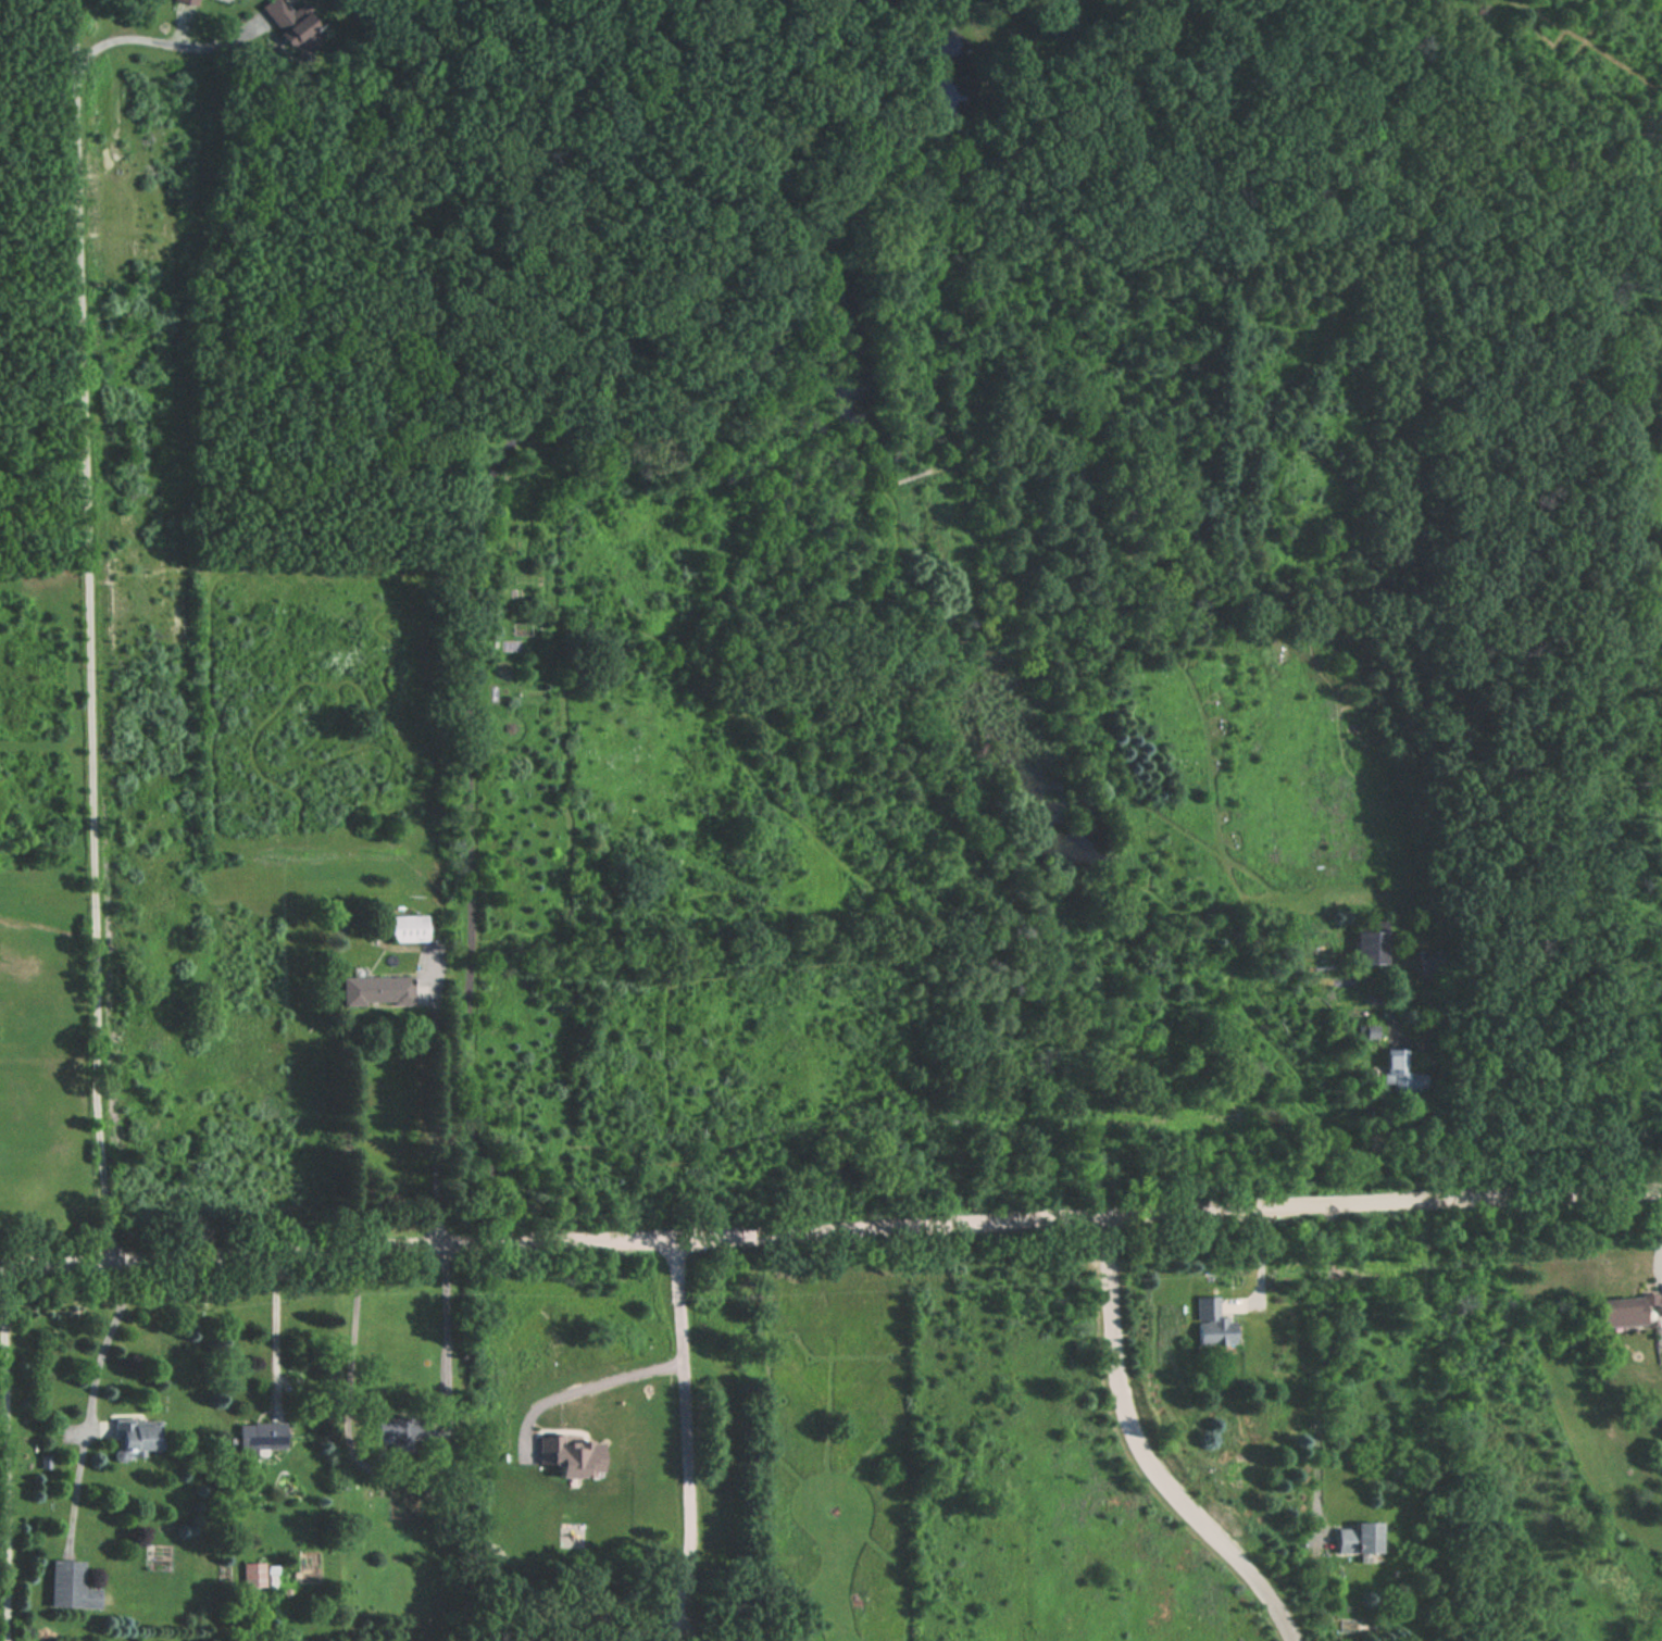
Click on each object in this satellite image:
building: (282, 17)
road: (157, 45)
road: (89, 629)
road: (470, 814)
building: (407, 927)
building: (1369, 947)
building: (1426, 959)
building: (376, 989)
building: (1398, 1073)
road: (1498, 1124)
road: (830, 1226)
road: (1261, 1265)
building: (1626, 1311)
building: (1210, 1324)
road: (278, 1326)
road: (1322, 1363)
road: (587, 1385)
road: (91, 1403)
building: (133, 1437)
building: (259, 1437)
building: (390, 1438)
road: (683, 1440)
road: (1145, 1453)
road: (5, 1465)
road: (398, 1480)
building: (1355, 1539)
building: (252, 1576)
building: (68, 1587)
road: (687, 1619)

